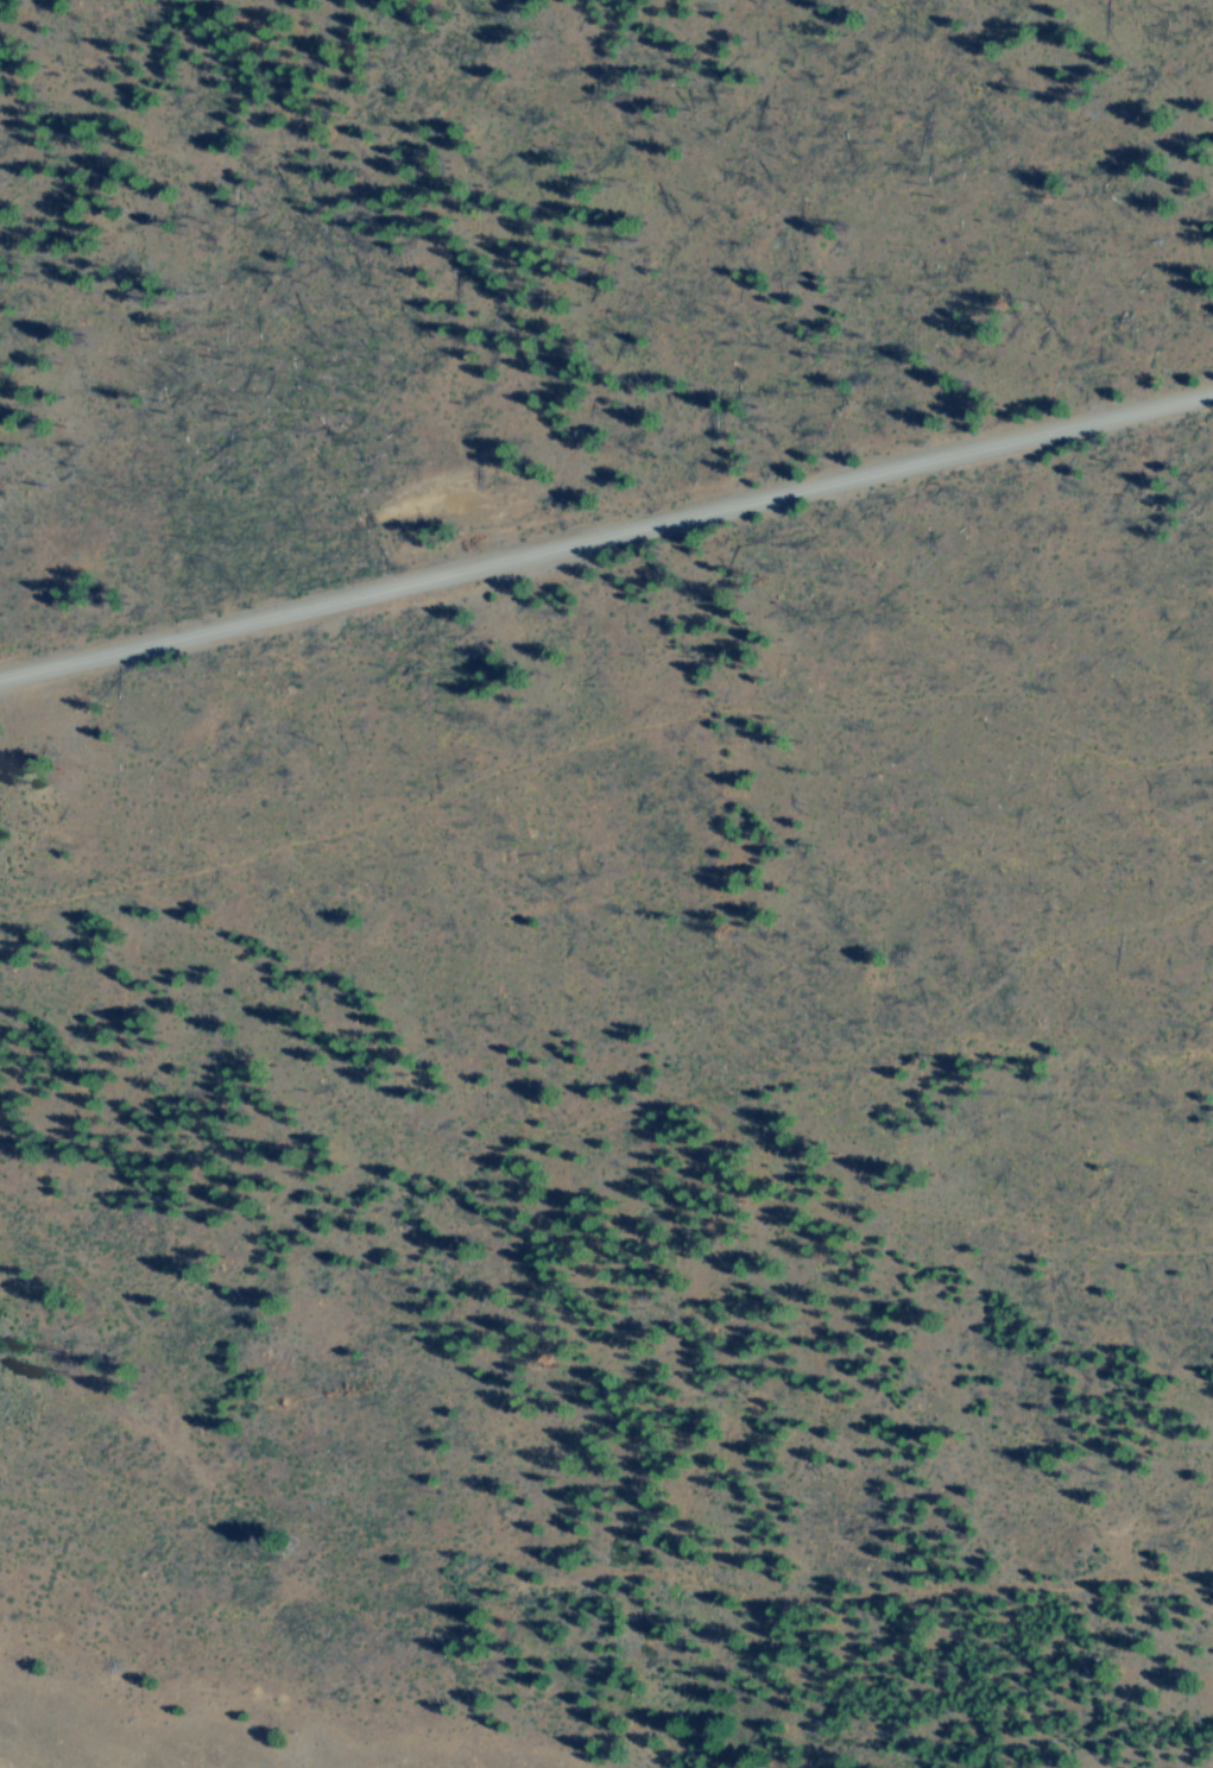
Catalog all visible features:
road: (607, 547)

